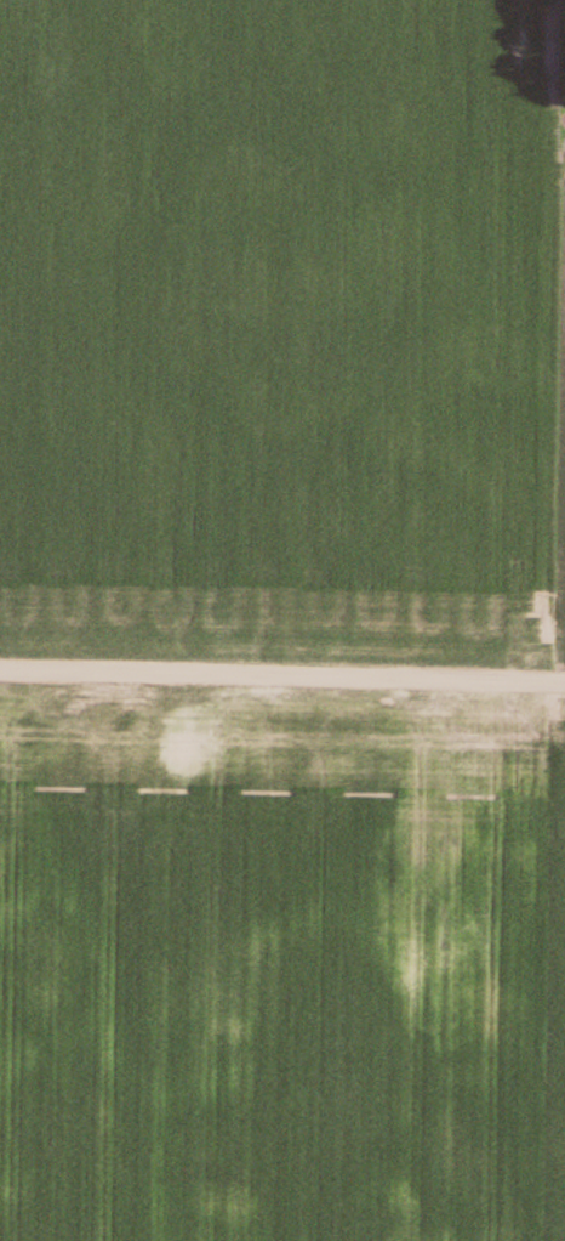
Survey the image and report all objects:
road: (281, 679)

